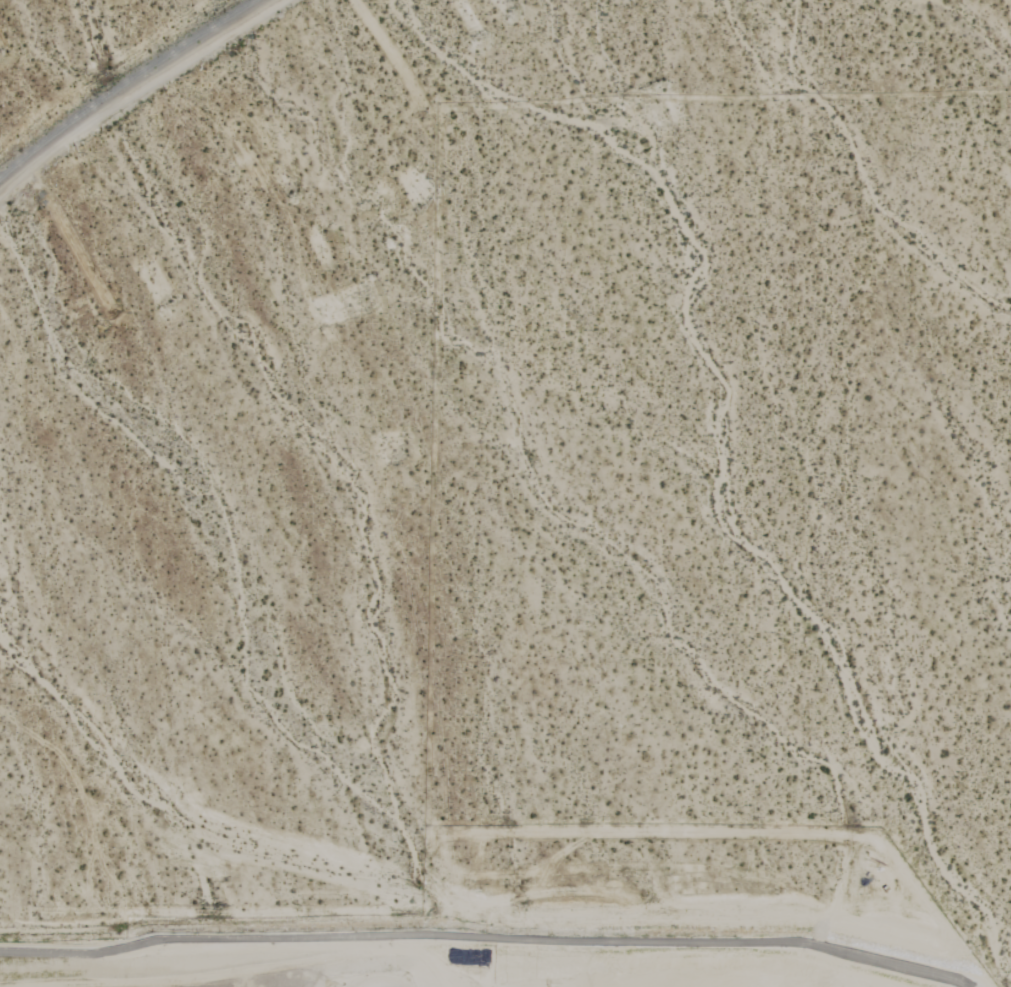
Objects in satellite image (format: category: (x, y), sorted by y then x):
railway: (124, 82)
road: (136, 90)

